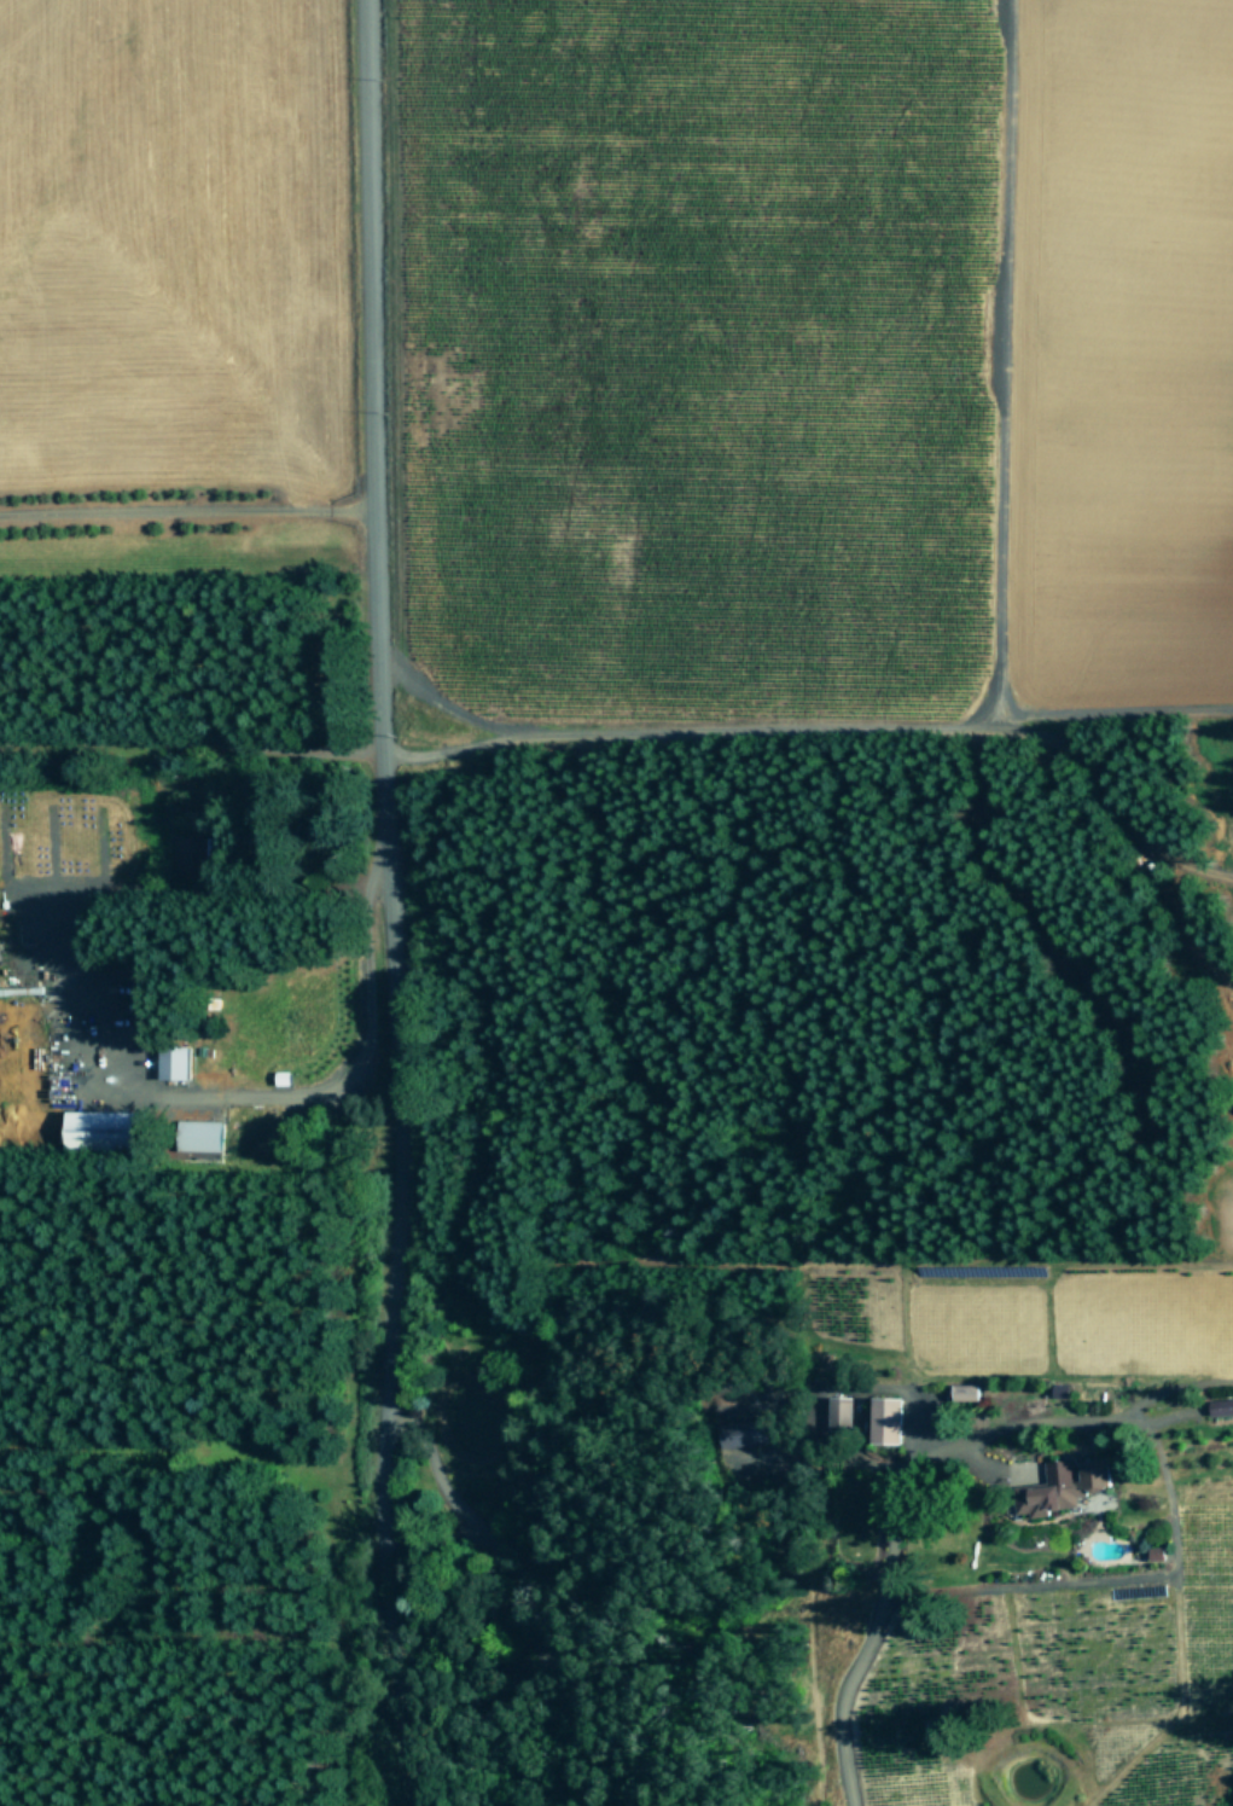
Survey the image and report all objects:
road: (184, 510)
road: (190, 739)
building: (196, 852)
road: (386, 904)
building: (149, 1004)
building: (180, 1062)
road: (290, 1084)
building: (101, 1130)
building: (204, 1134)
building: (970, 1390)
building: (1223, 1406)
building: (844, 1412)
building: (892, 1419)
building: (750, 1432)
road: (908, 1470)
building: (1066, 1485)
road: (500, 1592)

